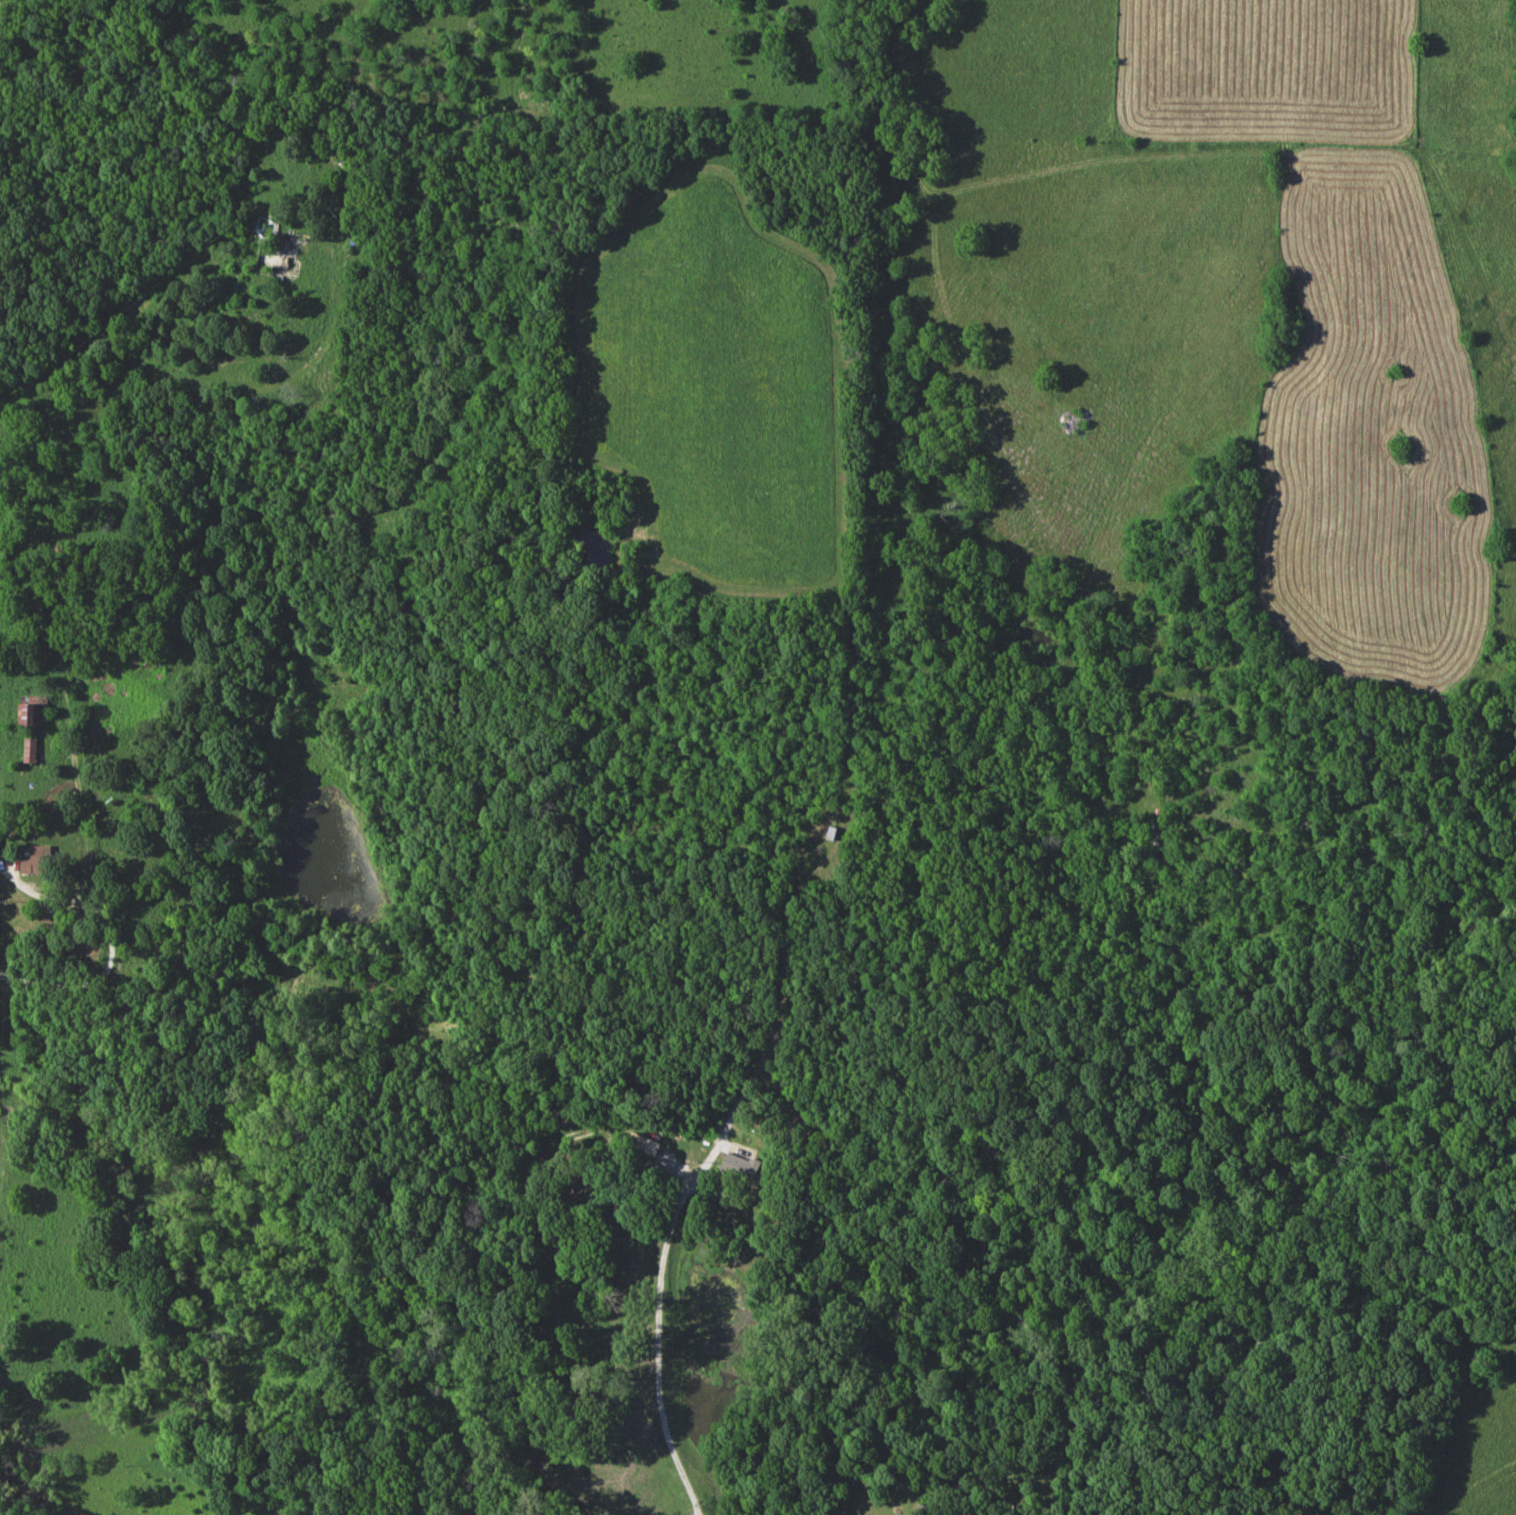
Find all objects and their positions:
building: (265, 226)
building: (34, 716)
building: (32, 751)
building: (38, 860)
road: (113, 948)
building: (587, 1132)
building: (644, 1144)
building: (742, 1168)
road: (656, 1349)

